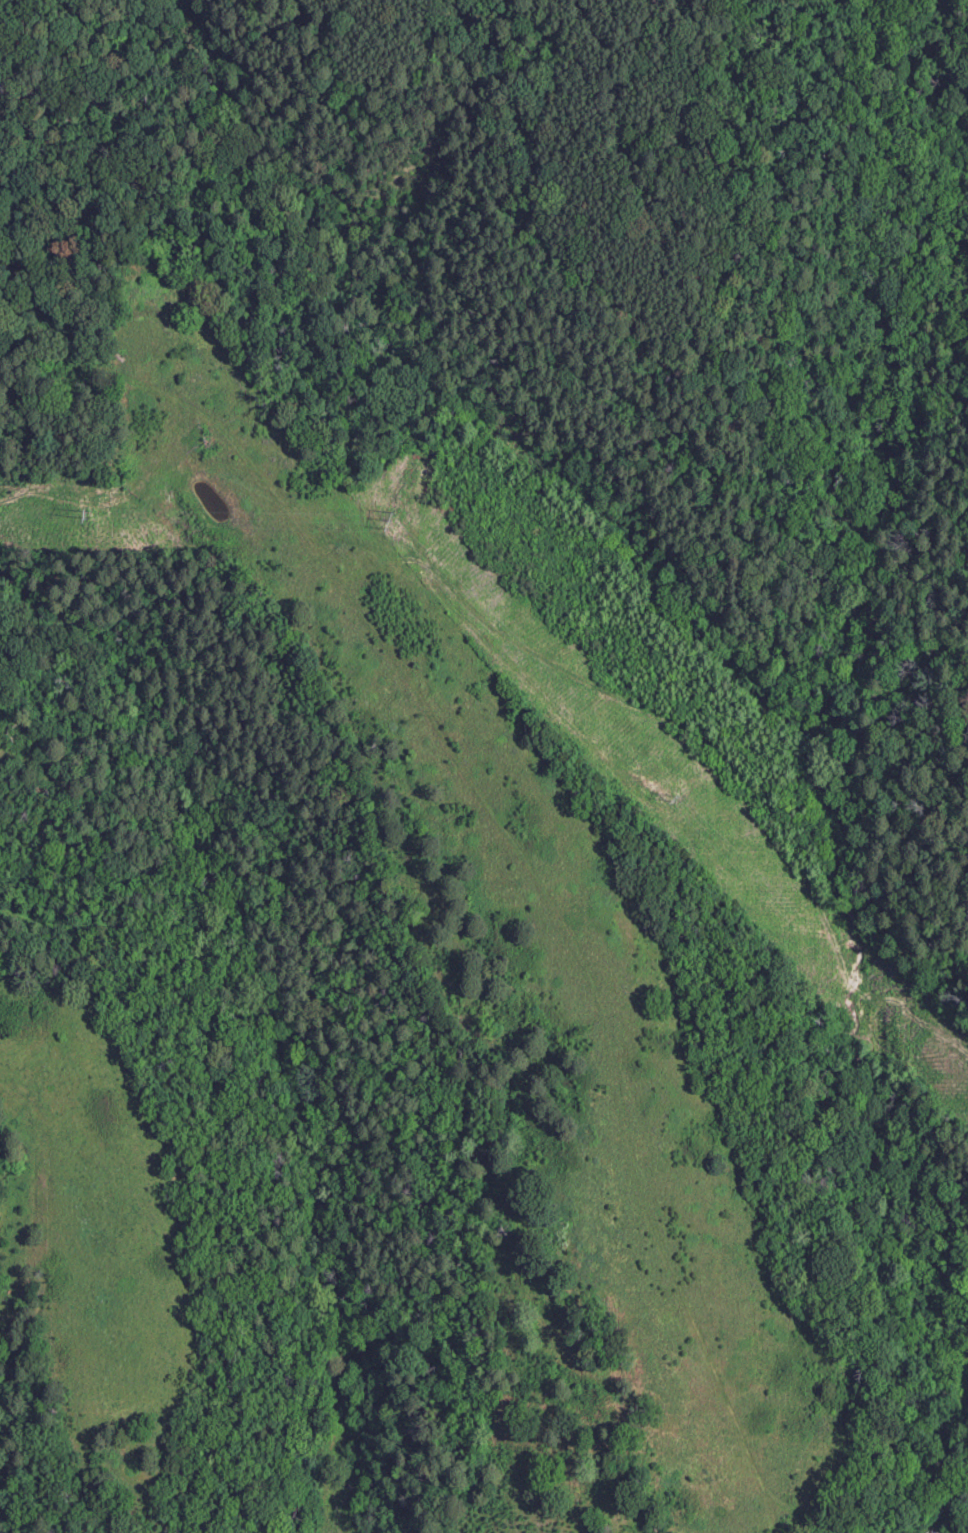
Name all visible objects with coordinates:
road: (802, 1237)

